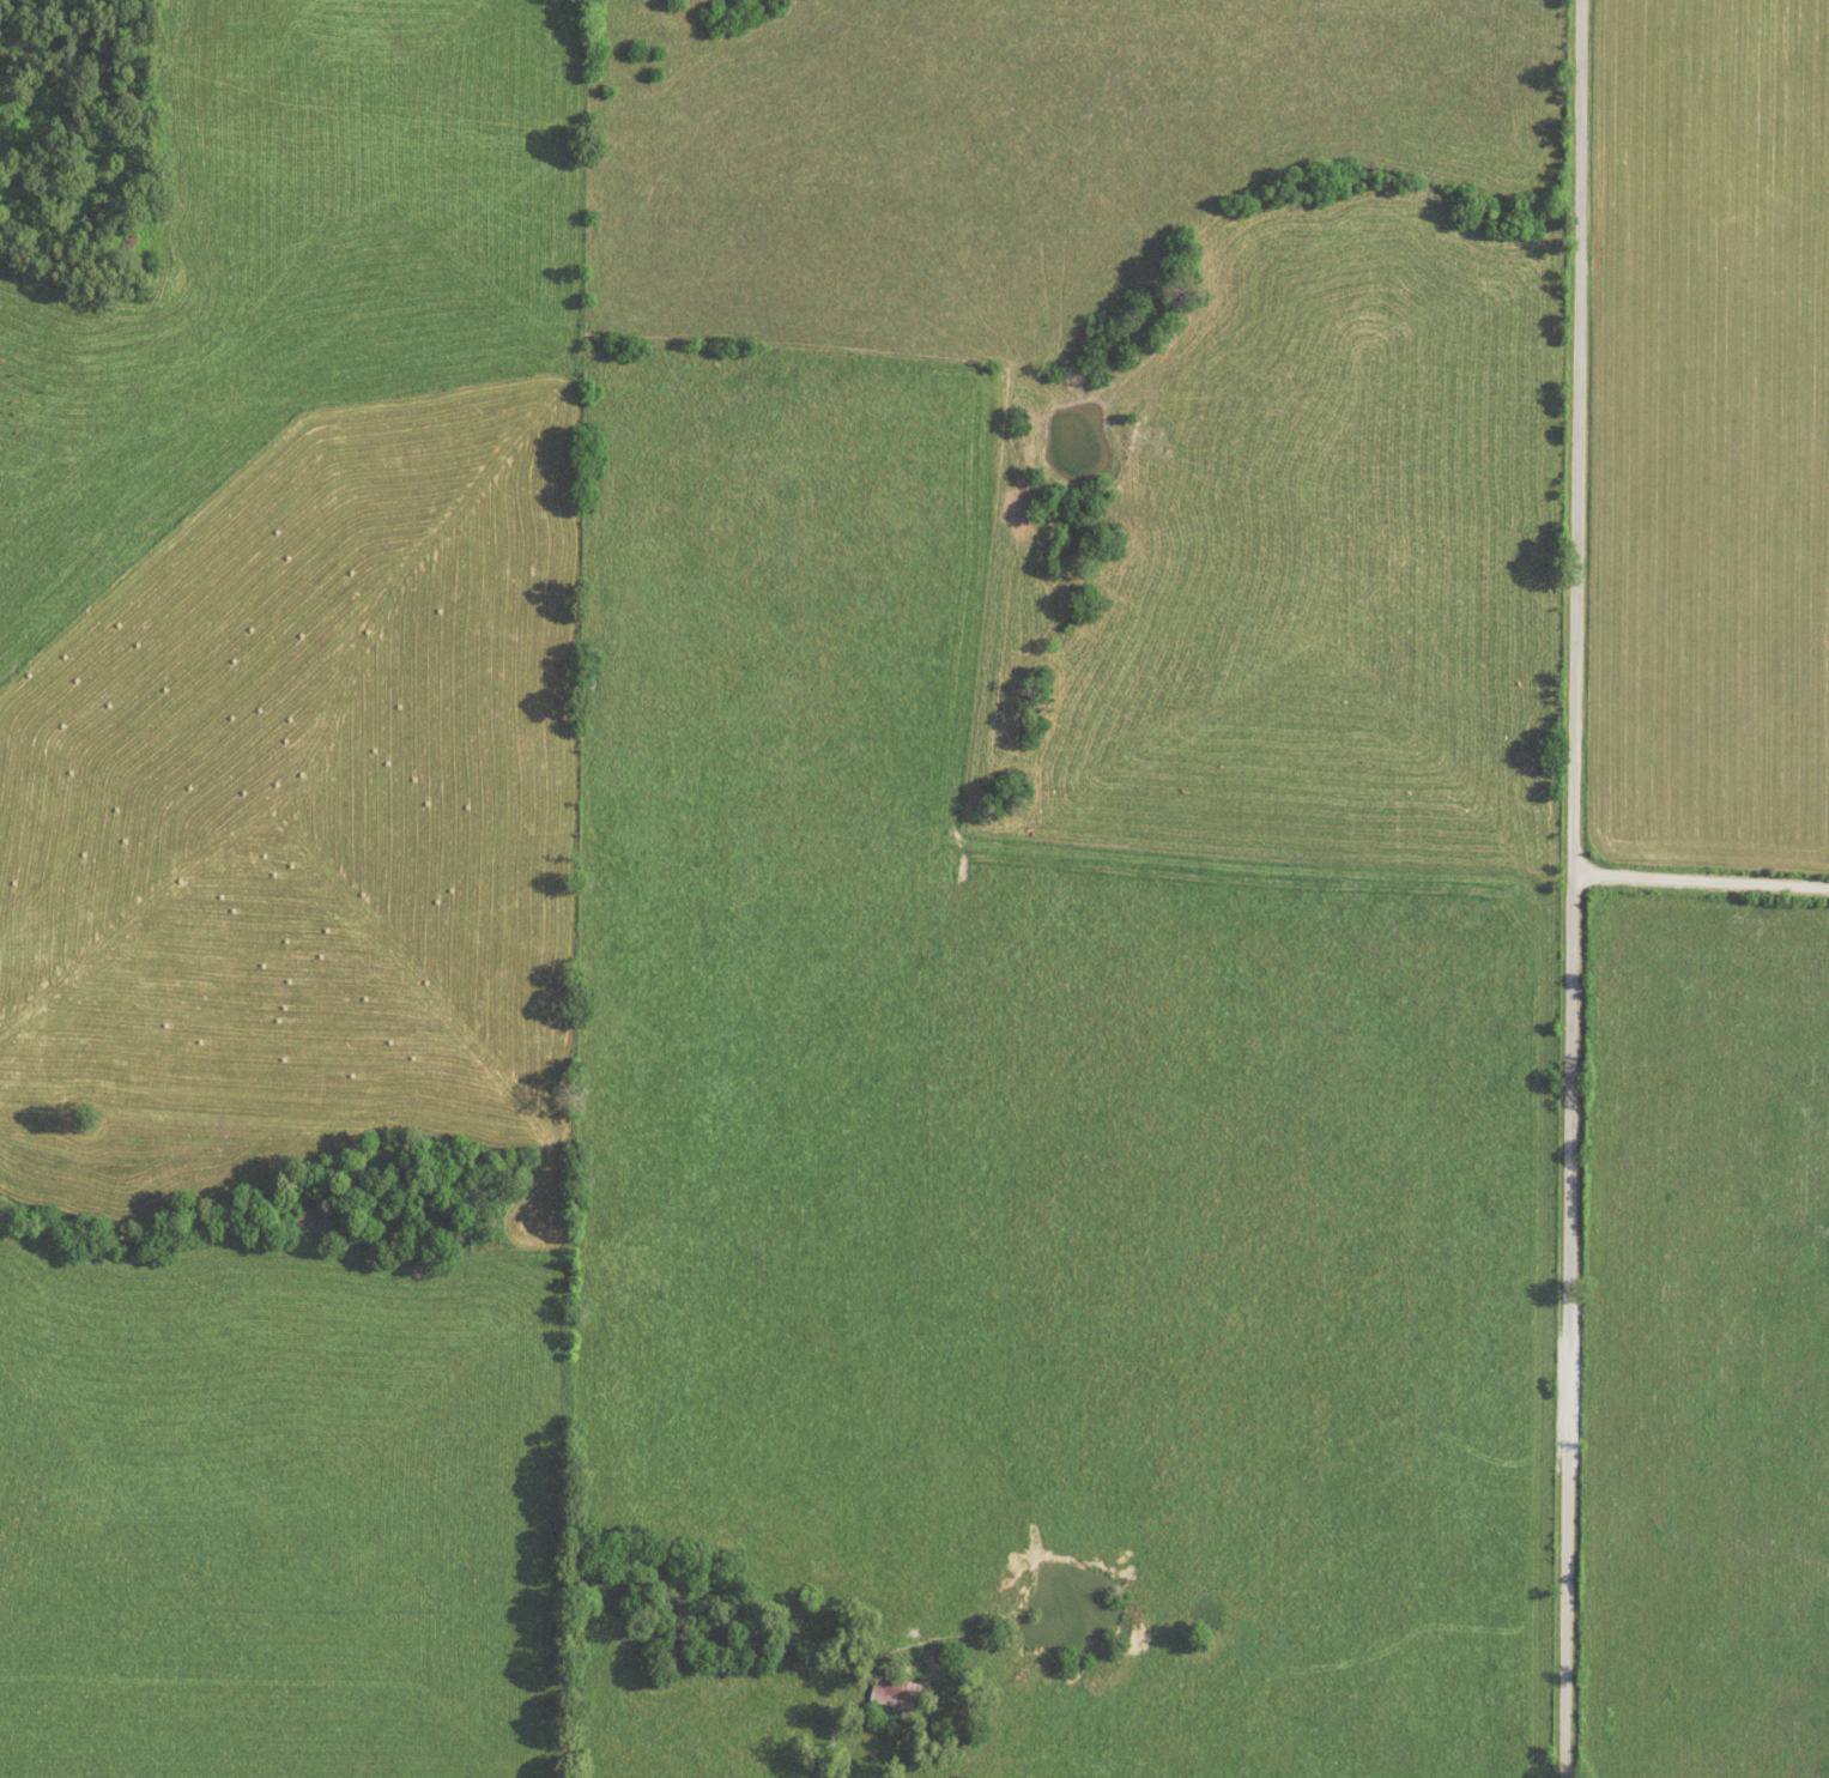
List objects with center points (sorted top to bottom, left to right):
road: (1703, 881)
road: (1577, 889)
building: (892, 1692)

